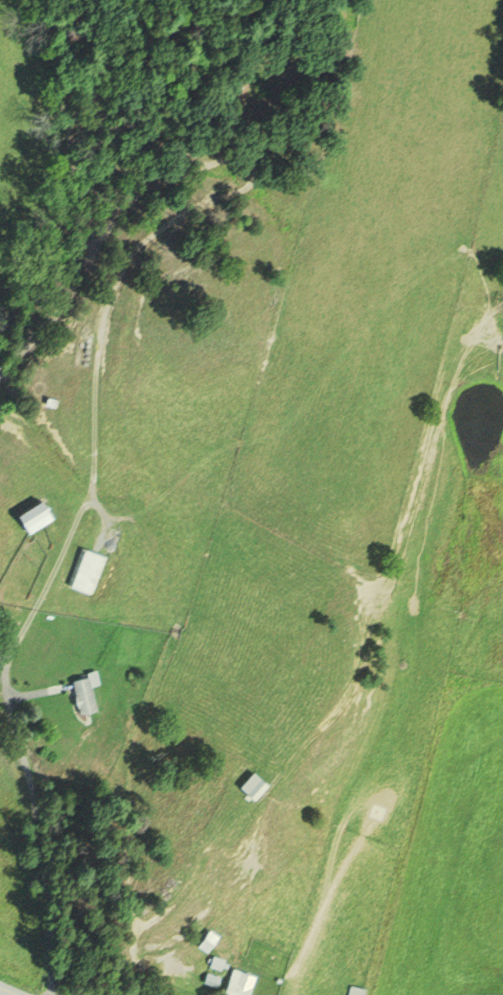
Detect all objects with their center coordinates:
road: (97, 377)
building: (34, 515)
building: (81, 571)
building: (85, 695)
building: (246, 786)
building: (211, 940)
road: (146, 954)
building: (220, 963)
building: (211, 980)
building: (240, 982)
road: (7, 991)
building: (353, 991)

